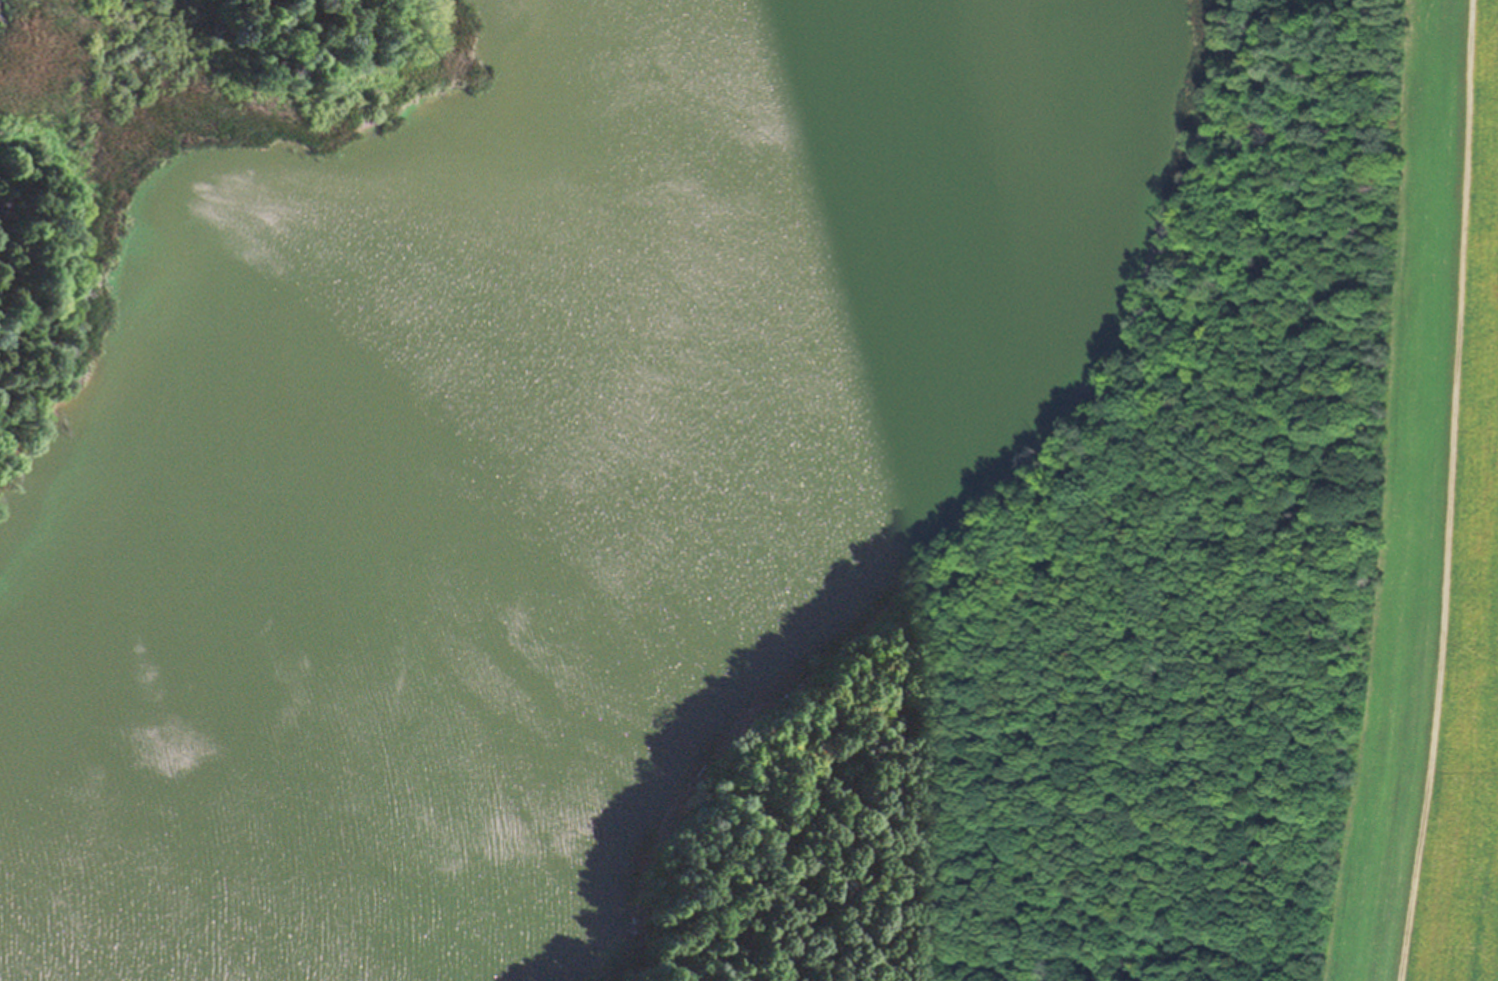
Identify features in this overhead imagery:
road: (1449, 491)
crop: (1432, 543)

